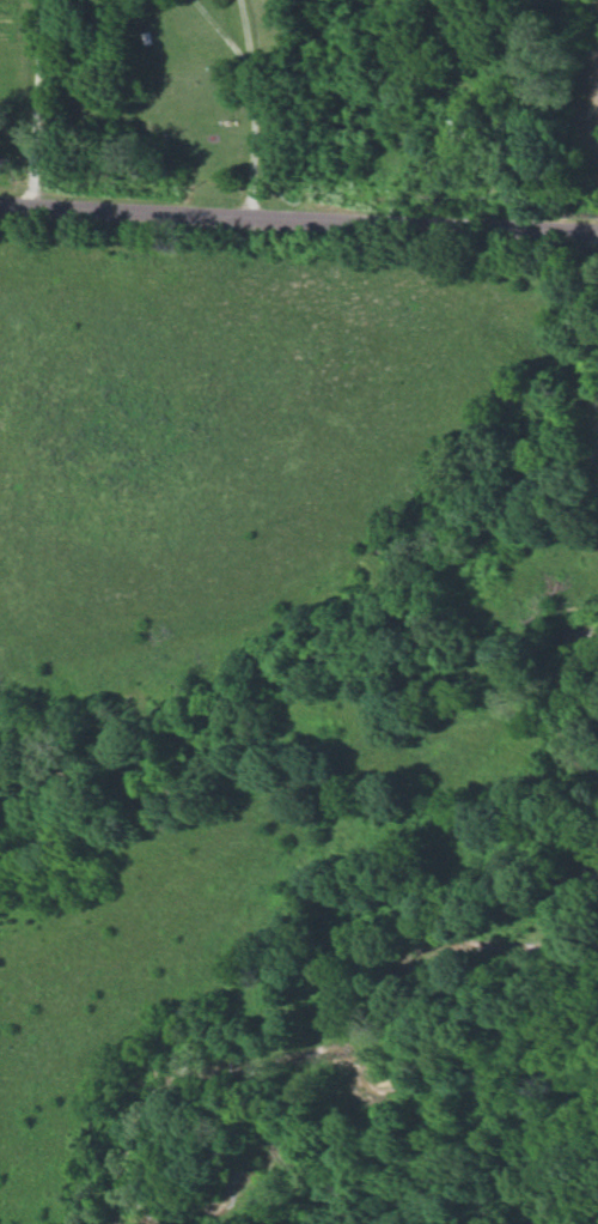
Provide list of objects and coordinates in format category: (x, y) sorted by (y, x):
crop: (172, 101)
road: (35, 102)
road: (251, 107)
road: (298, 216)

